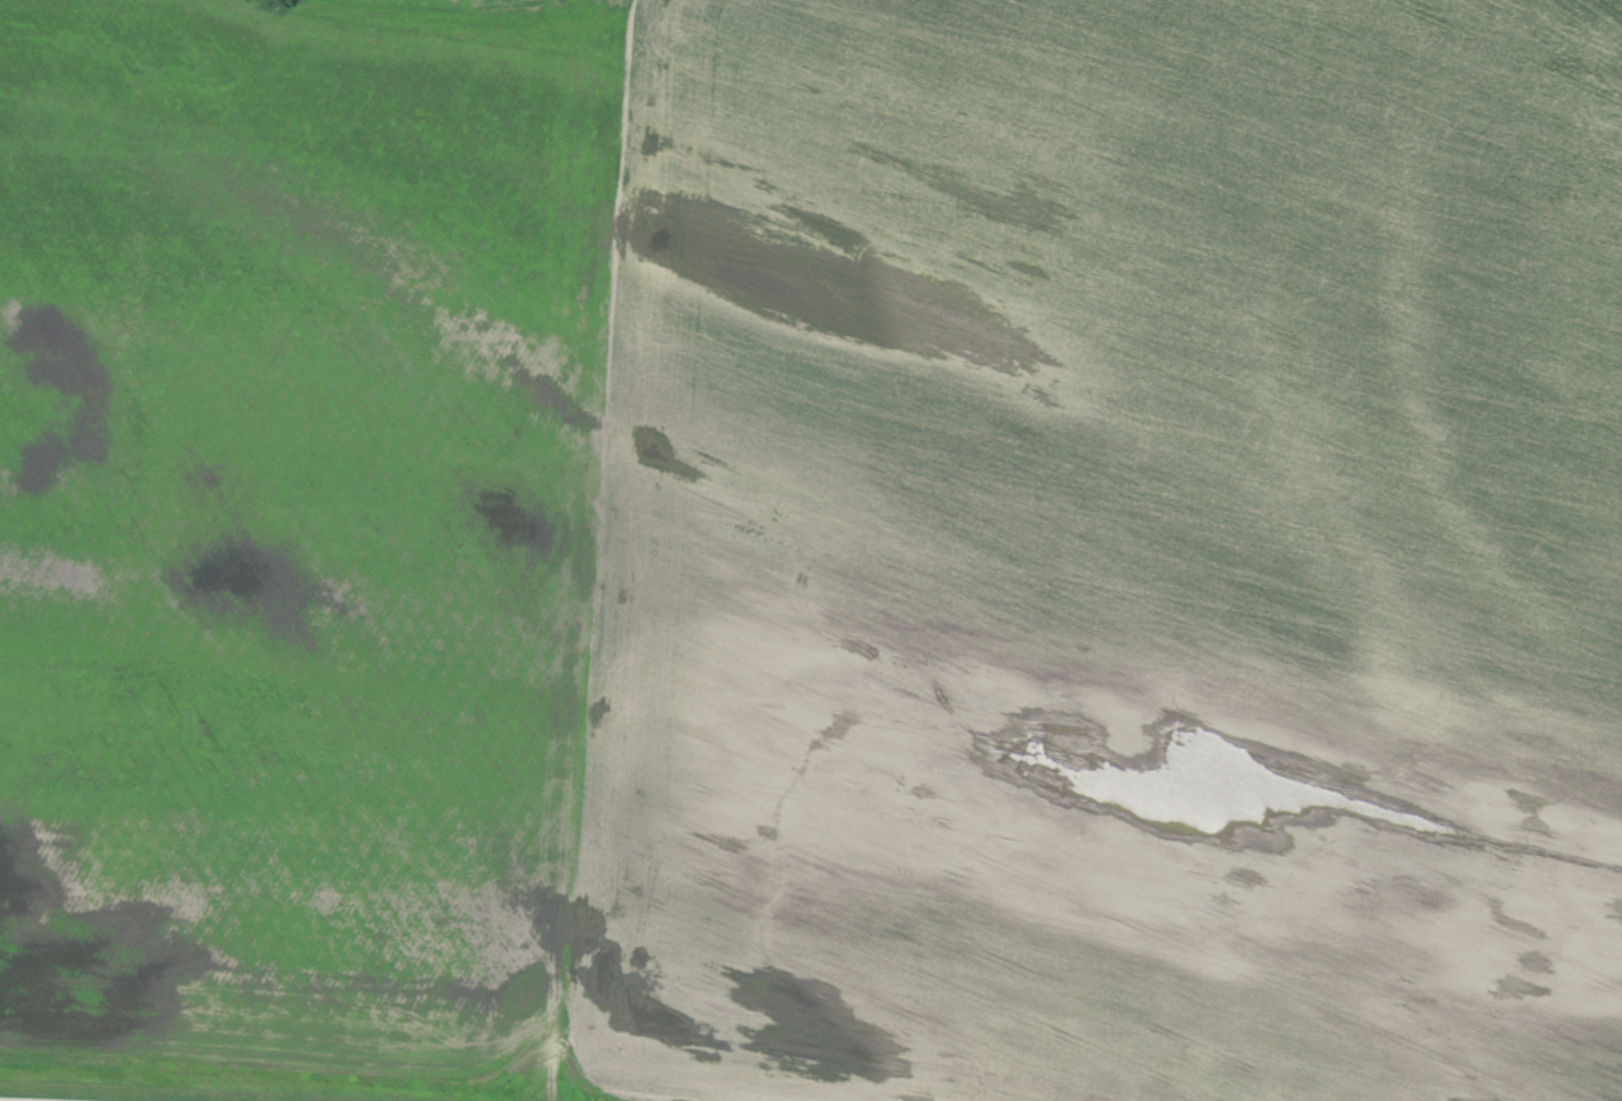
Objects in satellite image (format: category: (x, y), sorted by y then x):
crop: (1388, 199)
crop: (766, 574)

